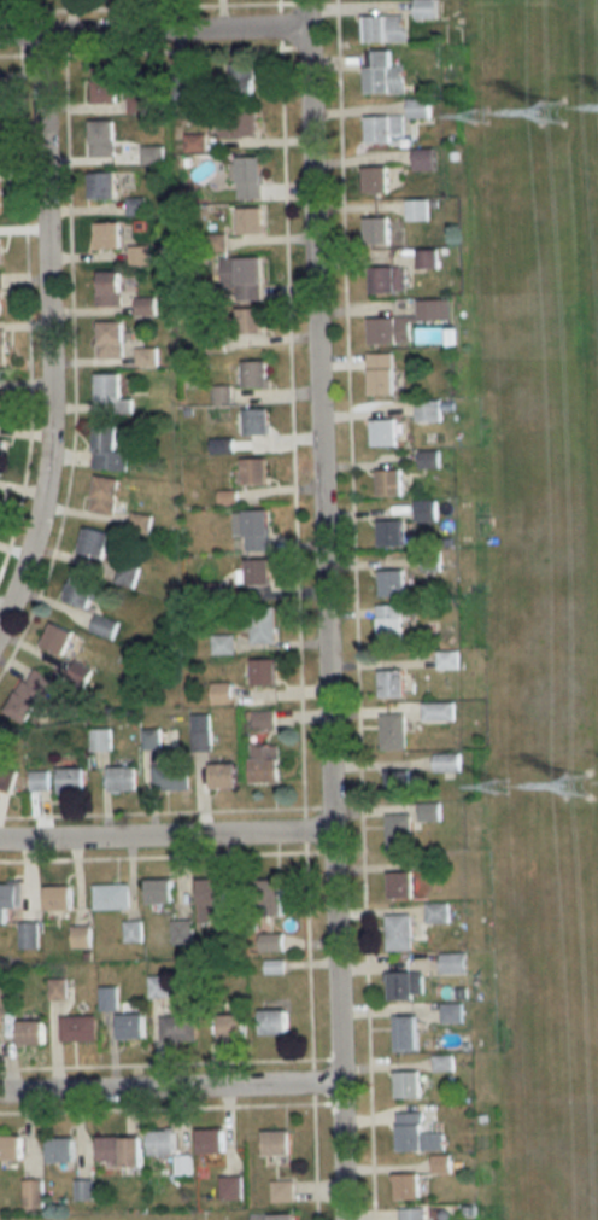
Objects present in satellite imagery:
building: (426, 8)
building: (383, 28)
road: (152, 31)
building: (382, 71)
building: (240, 80)
building: (104, 82)
building: (182, 86)
building: (137, 103)
power tower: (555, 109)
power tower: (482, 118)
building: (397, 121)
building: (239, 122)
building: (101, 136)
building: (151, 153)
building: (423, 156)
building: (248, 176)
building: (371, 177)
building: (101, 183)
building: (416, 209)
building: (251, 220)
building: (374, 227)
building: (107, 235)
building: (0, 250)
building: (427, 257)
building: (389, 275)
building: (242, 276)
building: (109, 287)
building: (0, 293)
building: (435, 307)
building: (248, 321)
building: (387, 328)
road: (47, 333)
building: (110, 339)
building: (2, 348)
building: (379, 370)
building: (256, 373)
building: (110, 395)
building: (2, 404)
building: (427, 411)
building: (257, 421)
building: (383, 430)
building: (107, 449)
building: (1, 451)
building: (428, 456)
building: (253, 471)
building: (388, 480)
building: (104, 494)
building: (424, 509)
building: (257, 530)
building: (389, 531)
building: (93, 542)
building: (257, 571)
building: (125, 574)
building: (391, 582)
building: (80, 591)
road: (323, 609)
building: (387, 619)
building: (262, 624)
building: (104, 625)
building: (57, 638)
building: (222, 643)
building: (450, 656)
building: (264, 671)
building: (78, 672)
building: (389, 681)
building: (221, 691)
building: (29, 695)
building: (436, 708)
building: (264, 717)
building: (391, 728)
building: (200, 731)
building: (151, 734)
building: (100, 739)
building: (447, 760)
building: (264, 763)
building: (170, 776)
building: (223, 776)
building: (6, 777)
building: (123, 778)
building: (37, 780)
building: (71, 780)
building: (398, 783)
power tower: (578, 789)
power tower: (498, 790)
building: (395, 833)
road: (165, 837)
building: (397, 880)
building: (159, 892)
building: (111, 897)
building: (8, 898)
building: (58, 898)
building: (268, 898)
building: (211, 901)
building: (436, 911)
building: (395, 929)
building: (131, 932)
building: (181, 933)
building: (28, 935)
building: (81, 936)
building: (271, 942)
building: (452, 958)
building: (274, 967)
building: (404, 981)
building: (158, 986)
building: (459, 987)
building: (58, 988)
building: (8, 998)
building: (450, 1008)
building: (272, 1022)
building: (131, 1027)
building: (231, 1027)
building: (78, 1028)
building: (177, 1029)
building: (404, 1029)
building: (30, 1033)
building: (441, 1058)
building: (403, 1080)
road: (170, 1091)
building: (416, 1134)
building: (207, 1138)
building: (272, 1140)
building: (10, 1146)
building: (59, 1146)
building: (117, 1148)
building: (165, 1150)
building: (439, 1162)
building: (403, 1184)
building: (228, 1185)
building: (281, 1187)
building: (84, 1189)
building: (34, 1192)
building: (411, 1213)
building: (271, 1214)

